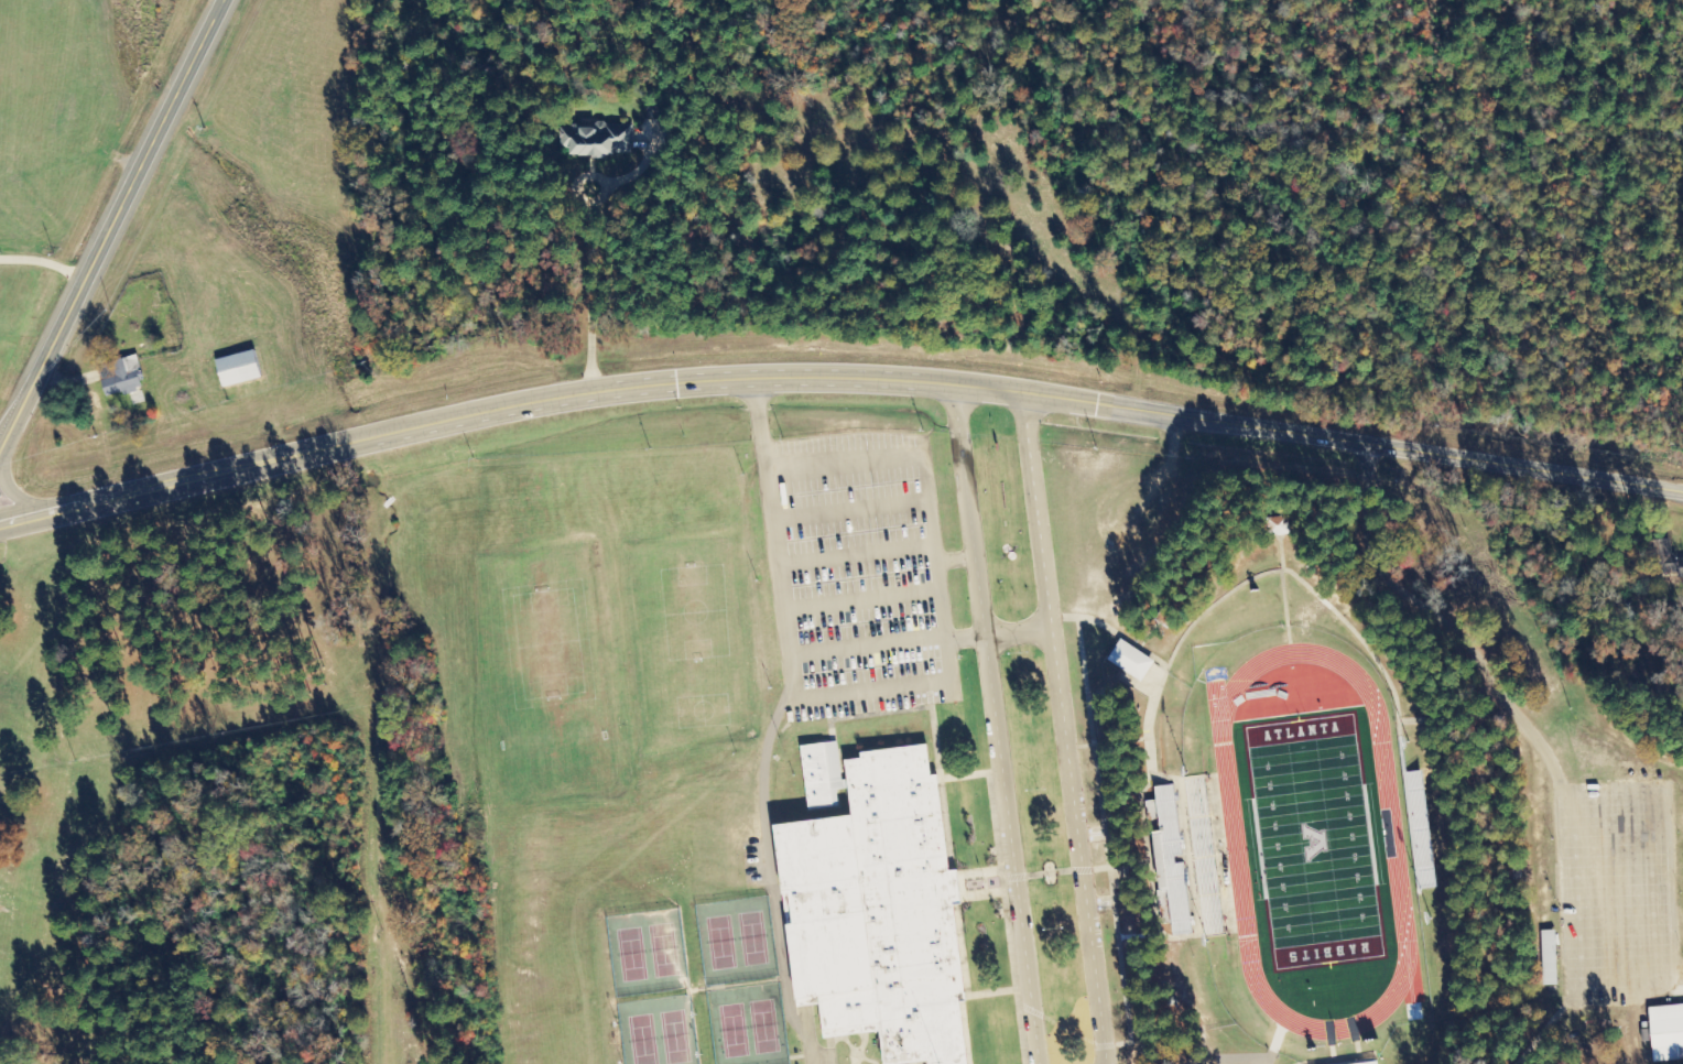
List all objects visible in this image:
building: (599, 140)
road: (113, 228)
building: (239, 369)
building: (123, 377)
road: (837, 379)
road: (845, 465)
road: (14, 495)
road: (850, 510)
building: (1278, 526)
road: (774, 538)
road: (857, 555)
building: (1668, 557)
road: (957, 561)
road: (938, 565)
road: (862, 599)
road: (1020, 632)
road: (966, 640)
road: (869, 647)
building: (1130, 661)
road: (875, 687)
road: (995, 727)
road: (1066, 729)
building: (822, 774)
stadium: (1289, 806)
building: (1420, 830)
park: (1314, 842)
track: (1235, 843)
building: (1205, 858)
road: (770, 859)
building: (1172, 860)
road: (1047, 875)
building: (879, 914)
park: (753, 940)
park: (721, 944)
park: (664, 952)
park: (632, 956)
building: (1549, 958)
park: (764, 1028)
park: (734, 1032)
building: (1666, 1033)
park: (675, 1038)
road: (807, 1039)
park: (643, 1040)
building: (1372, 1063)

